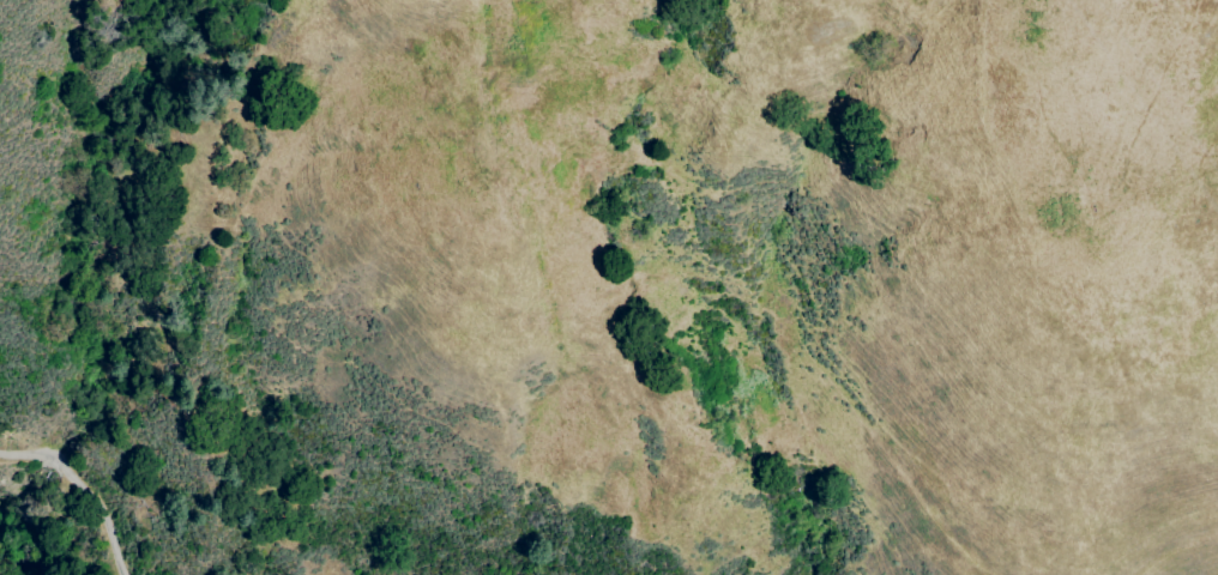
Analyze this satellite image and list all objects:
park: (78, 420)
road: (84, 486)
park: (267, 552)

